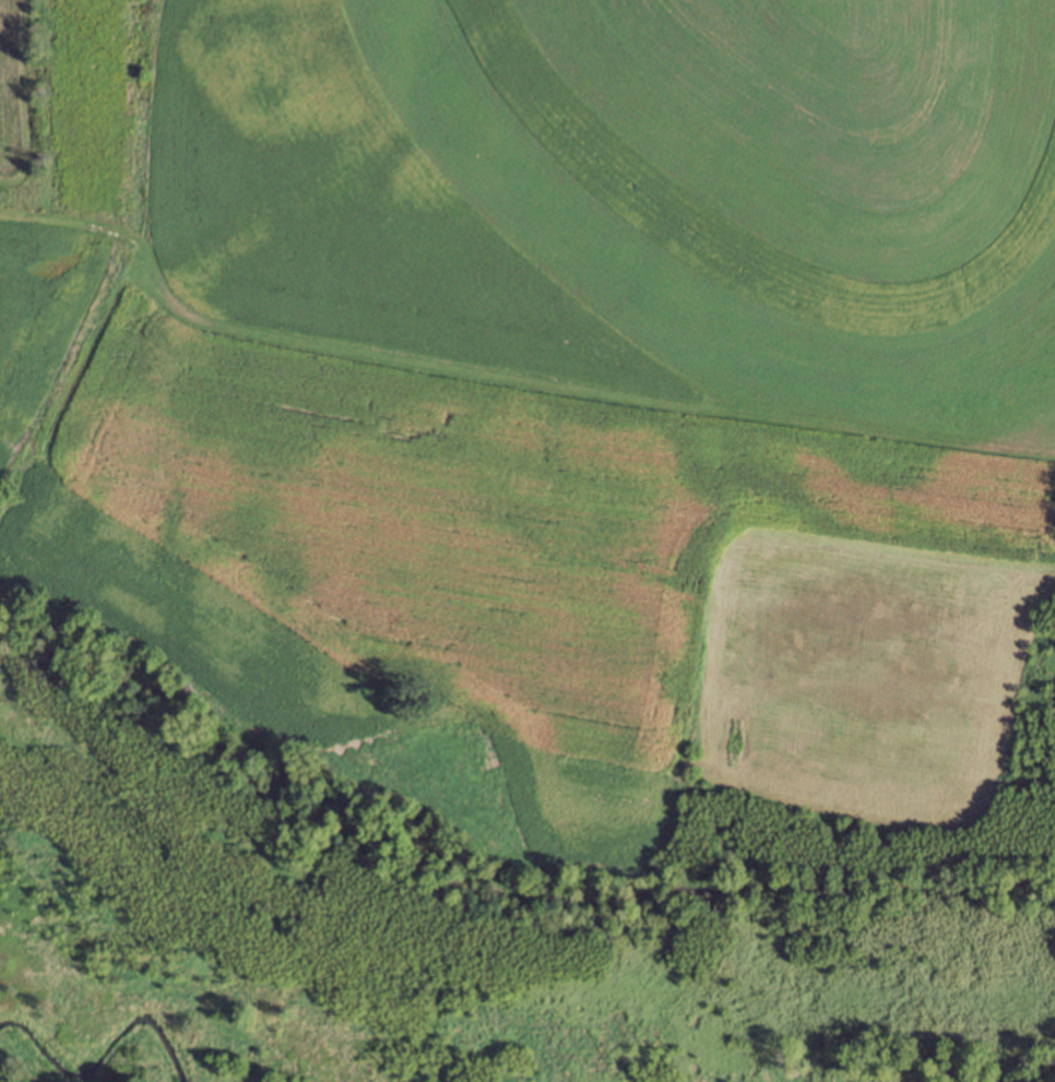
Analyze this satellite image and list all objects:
river: (147, 1035)
river: (46, 1048)

